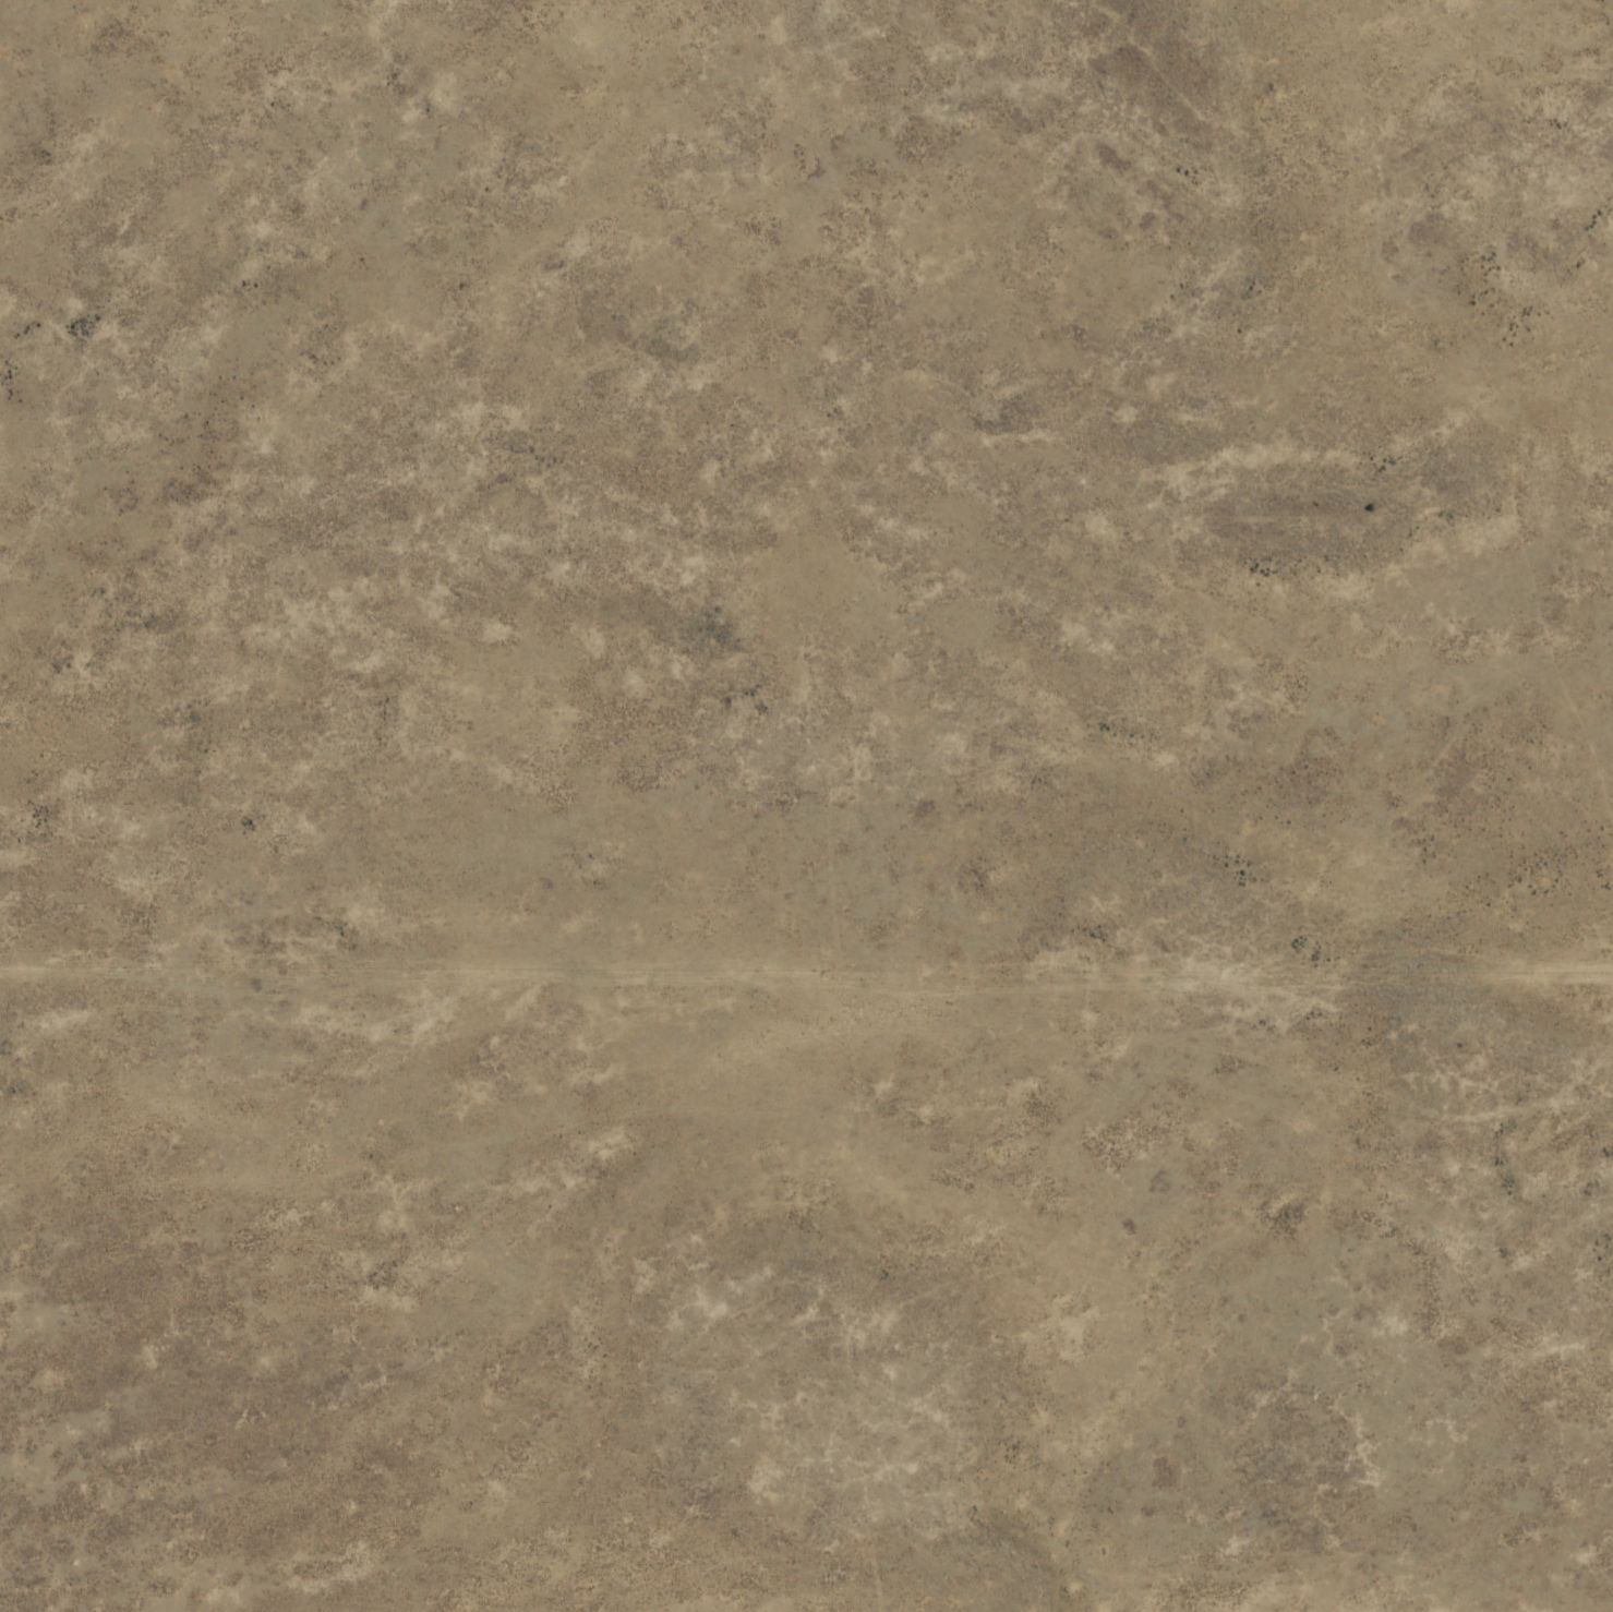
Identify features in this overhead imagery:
road: (1597, 13)

